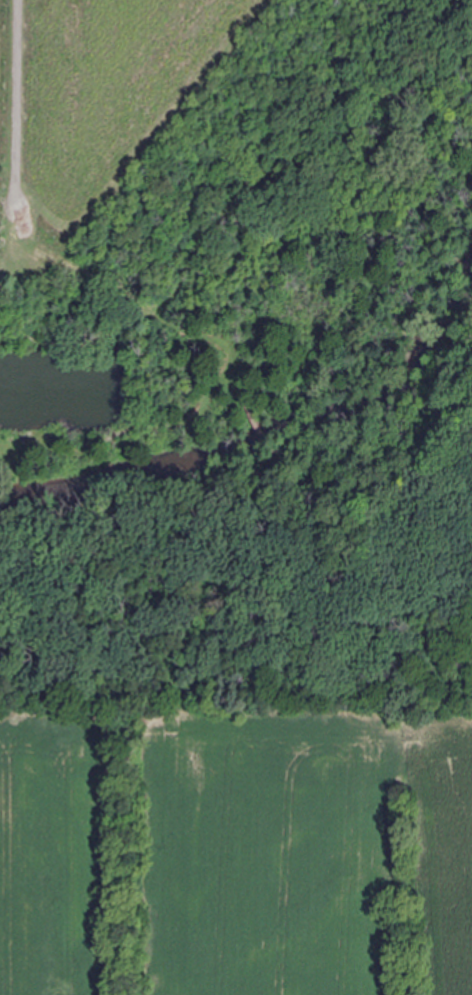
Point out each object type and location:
river: (267, 435)

